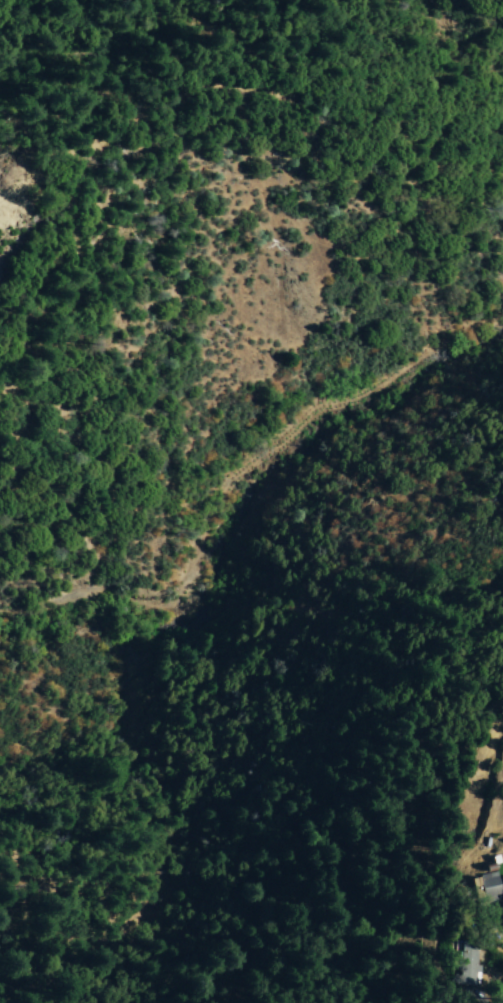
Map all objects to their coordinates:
building: (489, 885)
road: (499, 914)
building: (468, 965)

